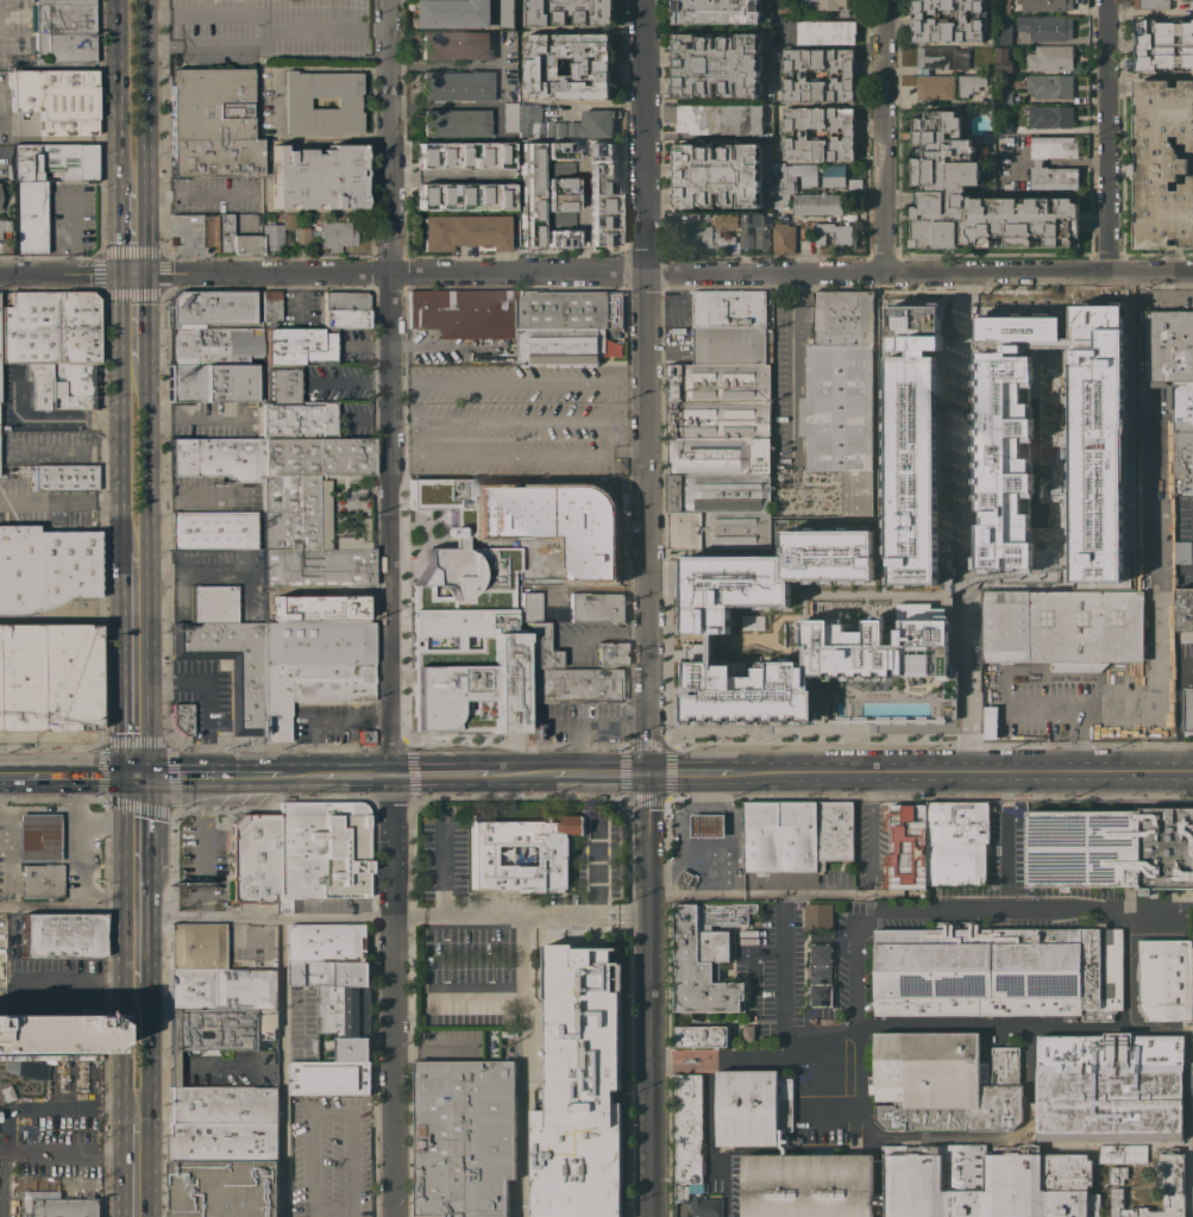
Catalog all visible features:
building: (1172, 0)
building: (1151, 4)
building: (1191, 4)
building: (827, 5)
building: (1046, 5)
building: (1002, 7)
building: (784, 10)
road: (206, 11)
building: (570, 11)
building: (716, 11)
building: (454, 13)
building: (507, 14)
building: (947, 20)
building: (1046, 26)
road: (310, 29)
building: (62, 31)
building: (825, 32)
building: (1003, 34)
building: (1162, 44)
building: (454, 45)
road: (206, 46)
building: (941, 57)
building: (1050, 57)
building: (1003, 59)
building: (592, 64)
building: (717, 64)
building: (786, 74)
road: (113, 81)
road: (144, 81)
building: (969, 83)
building: (454, 86)
building: (935, 86)
building: (1049, 86)
building: (1004, 96)
building: (55, 101)
building: (295, 102)
building: (1049, 117)
building: (508, 118)
building: (720, 119)
building: (453, 123)
building: (597, 123)
building: (211, 124)
building: (542, 125)
building: (1003, 126)
building: (786, 133)
road: (883, 134)
road: (1103, 136)
road: (387, 137)
building: (1005, 146)
building: (558, 150)
building: (463, 153)
building: (1037, 162)
building: (1163, 163)
building: (764, 171)
road: (448, 175)
building: (717, 175)
building: (834, 175)
building: (315, 178)
road: (124, 180)
road: (138, 180)
building: (791, 180)
building: (855, 182)
building: (42, 186)
building: (1007, 186)
building: (602, 193)
building: (528, 194)
building: (558, 194)
road: (187, 195)
building: (464, 195)
building: (974, 195)
building: (817, 203)
road: (579, 215)
building: (724, 221)
building: (5, 226)
building: (755, 231)
building: (271, 232)
building: (463, 232)
building: (834, 233)
road: (131, 234)
building: (221, 234)
building: (332, 234)
building: (703, 237)
building: (558, 238)
building: (783, 238)
building: (245, 245)
building: (736, 249)
traffic signals: (131, 274)
road: (596, 274)
building: (268, 306)
building: (729, 308)
building: (206, 309)
building: (570, 309)
building: (344, 310)
building: (465, 313)
road: (130, 318)
building: (49, 328)
building: (1126, 335)
building: (732, 345)
building: (1169, 345)
building: (213, 346)
building: (299, 346)
building: (557, 346)
road: (645, 360)
road: (790, 378)
road: (350, 381)
road: (402, 381)
building: (213, 383)
building: (282, 383)
building: (61, 385)
building: (841, 393)
road: (416, 399)
building: (718, 400)
building: (1181, 406)
road: (193, 418)
road: (40, 420)
building: (297, 420)
road: (363, 420)
road: (604, 420)
road: (402, 438)
building: (1005, 439)
building: (1095, 441)
building: (911, 444)
building: (718, 454)
road: (145, 457)
building: (315, 457)
road: (117, 458)
road: (494, 458)
building: (216, 459)
building: (1182, 459)
building: (64, 477)
building: (718, 491)
road: (58, 495)
road: (390, 497)
building: (303, 516)
building: (718, 528)
building: (216, 531)
building: (1182, 552)
road: (961, 554)
building: (44, 567)
building: (315, 567)
road: (665, 578)
building: (492, 590)
road: (1160, 603)
building: (212, 604)
building: (529, 607)
building: (596, 607)
building: (1183, 609)
building: (923, 623)
building: (1057, 634)
building: (316, 644)
building: (539, 648)
building: (608, 654)
road: (136, 663)
building: (230, 666)
building: (46, 678)
building: (574, 685)
building: (309, 690)
road: (202, 695)
road: (1075, 704)
building: (1188, 709)
building: (181, 719)
road: (573, 721)
road: (632, 721)
parking lot: (327, 722)
parking lot: (574, 722)
road: (329, 723)
building: (365, 738)
road: (577, 747)
road: (649, 747)
road: (394, 749)
road: (962, 771)
road: (692, 772)
road: (599, 773)
traffic signals: (651, 773)
road: (68, 774)
traffic signals: (138, 774)
road: (209, 774)
road: (444, 774)
road: (521, 774)
road: (301, 776)
road: (358, 776)
road: (37, 809)
road: (106, 823)
building: (708, 824)
road: (138, 827)
road: (869, 833)
building: (780, 836)
building: (834, 836)
building: (37, 838)
road: (75, 840)
building: (956, 842)
road: (203, 846)
building: (906, 846)
building: (1082, 848)
building: (1166, 848)
building: (555, 851)
building: (321, 852)
gas station: (709, 852)
building: (252, 858)
road: (1007, 858)
road: (441, 871)
building: (685, 877)
building: (40, 882)
road: (787, 895)
road: (780, 899)
road: (1046, 907)
road: (69, 908)
building: (723, 914)
building: (818, 916)
road: (206, 917)
road: (333, 917)
road: (520, 918)
road: (138, 929)
building: (61, 936)
building: (328, 942)
building: (714, 945)
building: (194, 947)
building: (1100, 953)
building: (1035, 961)
building: (933, 962)
building: (698, 970)
building: (821, 973)
road: (854, 973)
road: (780, 978)
building: (1166, 979)
road: (69, 980)
building: (222, 990)
road: (475, 992)
road: (649, 995)
road: (390, 996)
building: (1099, 999)
building: (340, 1004)
building: (925, 1005)
building: (1004, 1005)
building: (1054, 1005)
road: (975, 1024)
building: (215, 1030)
building: (748, 1033)
building: (50, 1035)
building: (702, 1035)
road: (516, 1043)
road: (137, 1052)
road: (671, 1053)
building: (1148, 1053)
building: (1074, 1054)
road: (730, 1055)
building: (691, 1060)
road: (729, 1064)
building: (999, 1066)
road: (282, 1067)
road: (671, 1067)
building: (927, 1068)
building: (25, 1069)
building: (329, 1078)
road: (839, 1083)
building: (579, 1087)
building: (6, 1093)
building: (222, 1105)
building: (1111, 1105)
building: (751, 1108)
road: (20, 1109)
building: (996, 1109)
road: (331, 1114)
building: (919, 1117)
road: (526, 1127)
building: (687, 1134)
building: (464, 1137)
road: (710, 1137)
road: (965, 1137)
building: (222, 1142)
building: (1122, 1153)
road: (70, 1154)
building: (963, 1167)
road: (136, 1169)
building: (1063, 1172)
building: (1117, 1174)
building: (1175, 1179)
building: (1012, 1180)
building: (809, 1185)
building: (923, 1186)
building: (224, 1188)
building: (1063, 1203)
building: (12, 1205)
building: (705, 1205)
building: (1093, 1205)
building: (67, 1207)
road: (334, 1215)

